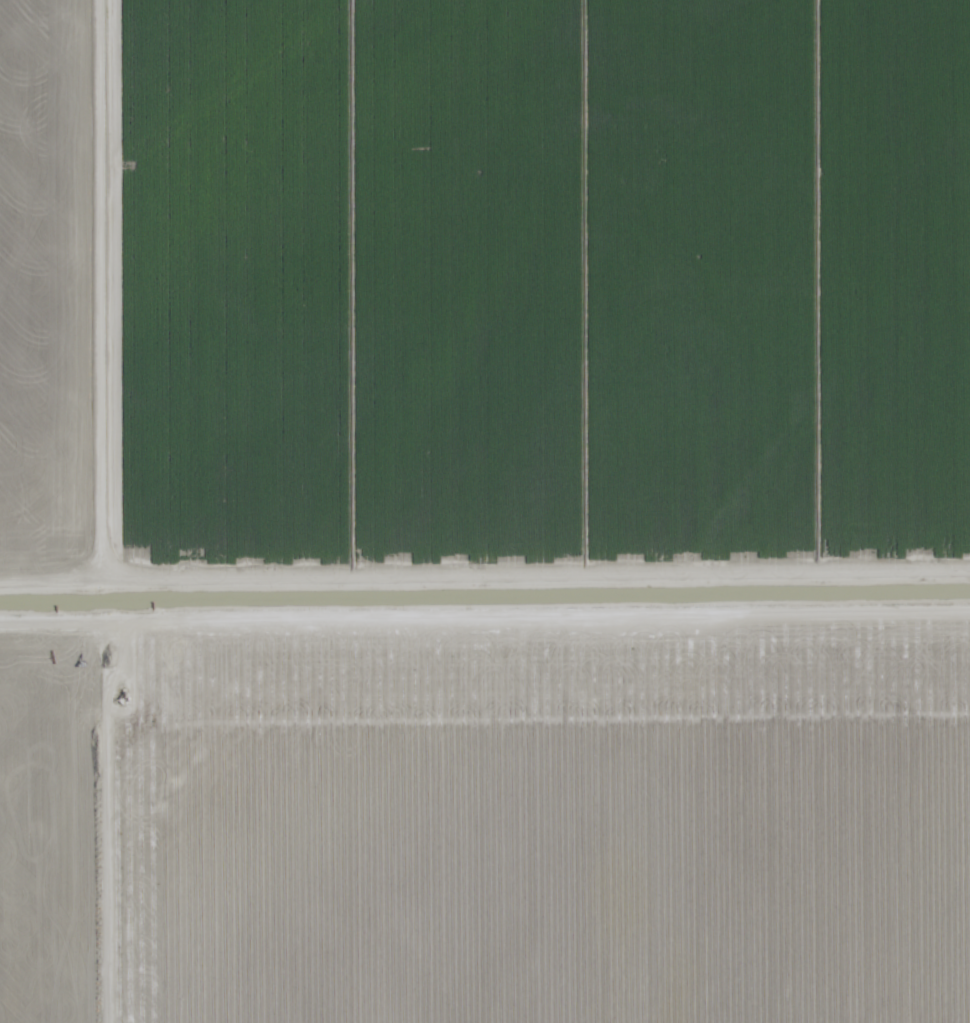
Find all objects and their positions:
road: (910, 306)
road: (484, 614)

